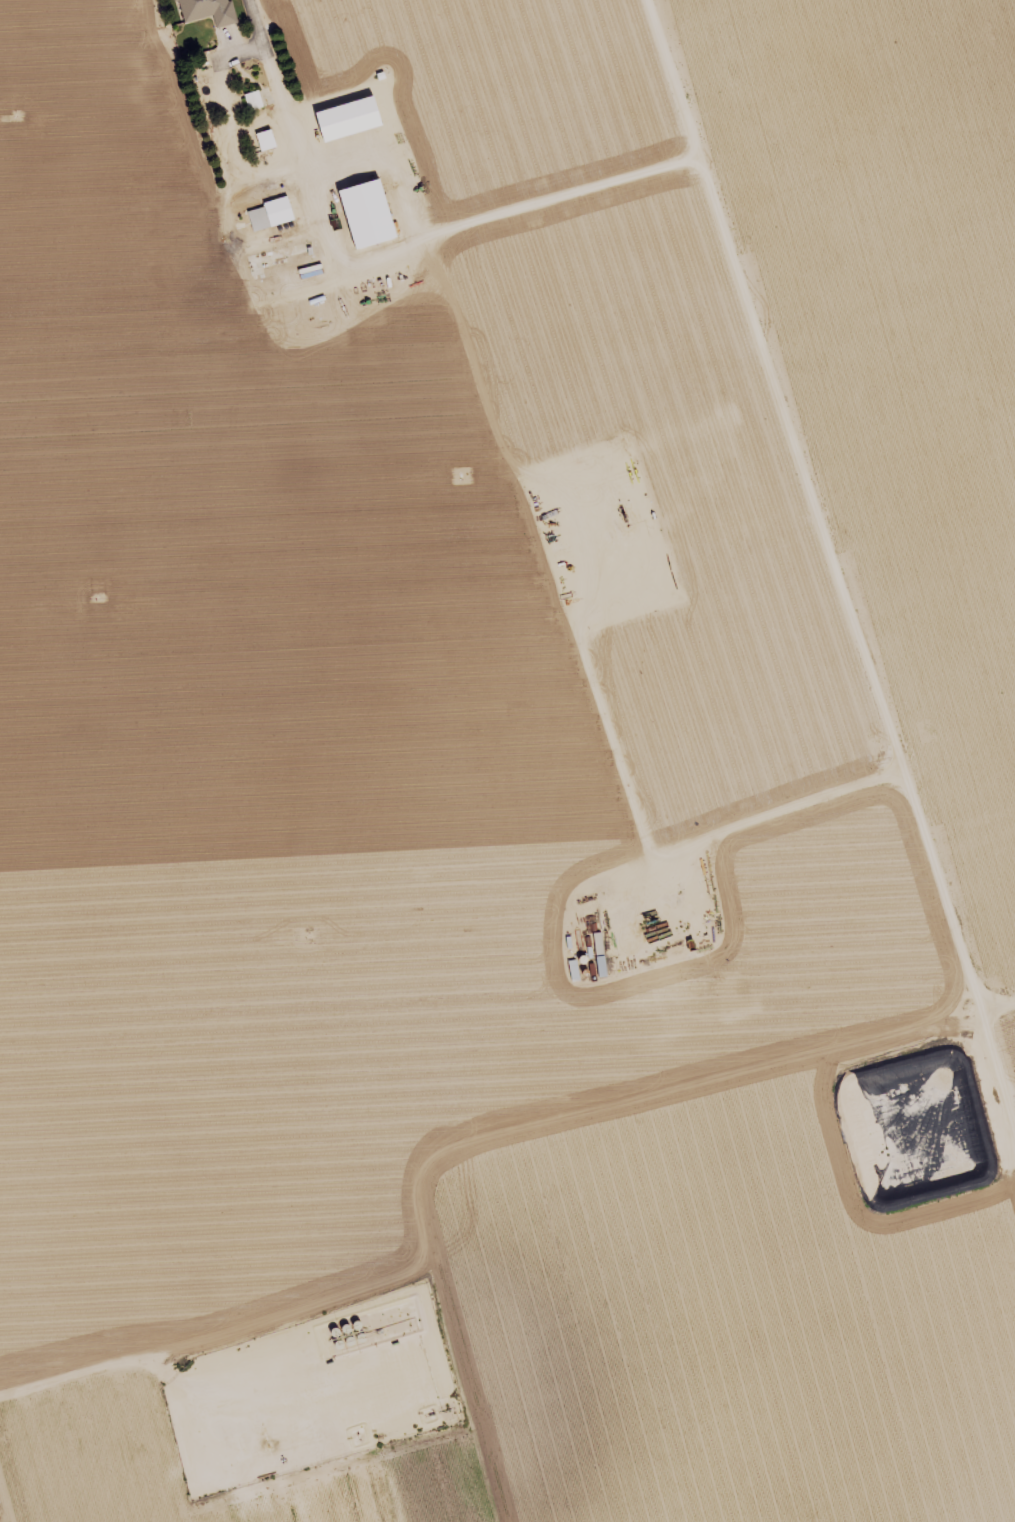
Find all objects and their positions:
building: (252, 98)
building: (344, 116)
building: (266, 211)
building: (363, 211)
road: (836, 1387)

